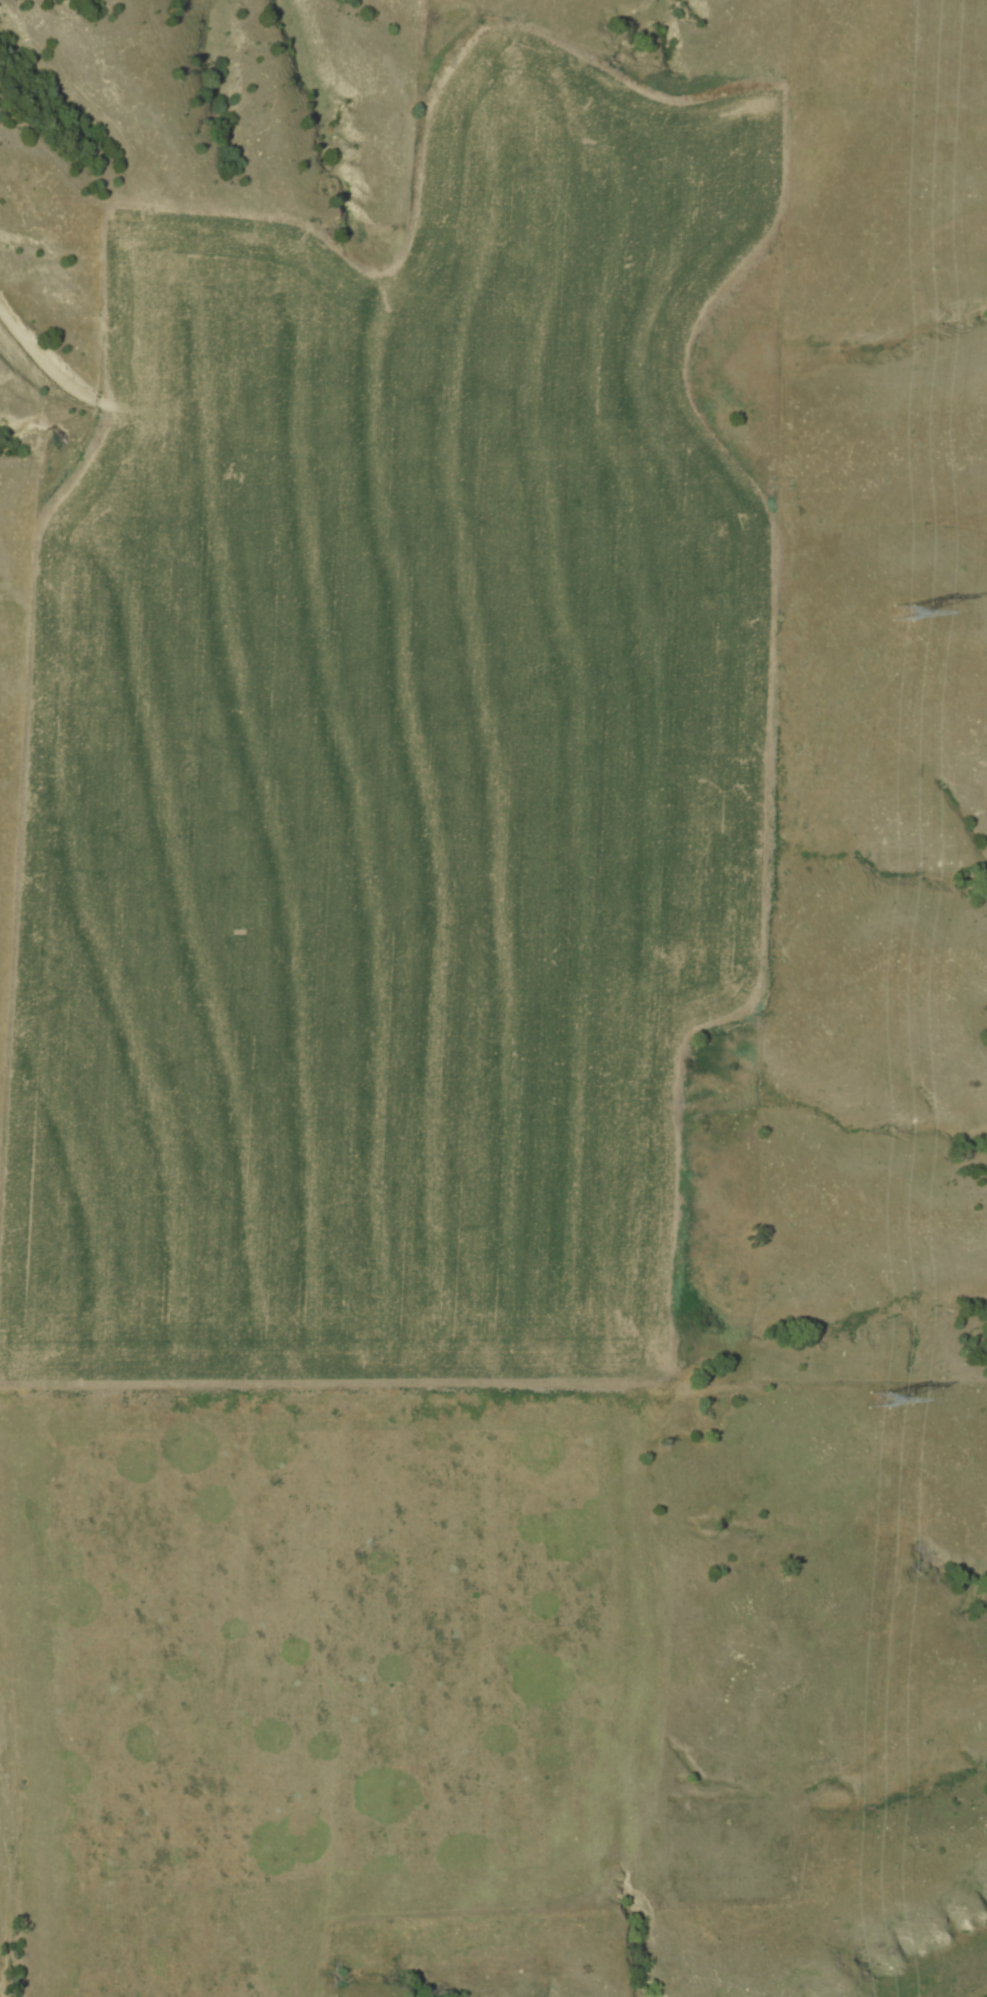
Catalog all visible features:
power tower: (904, 613)
power tower: (879, 1400)

